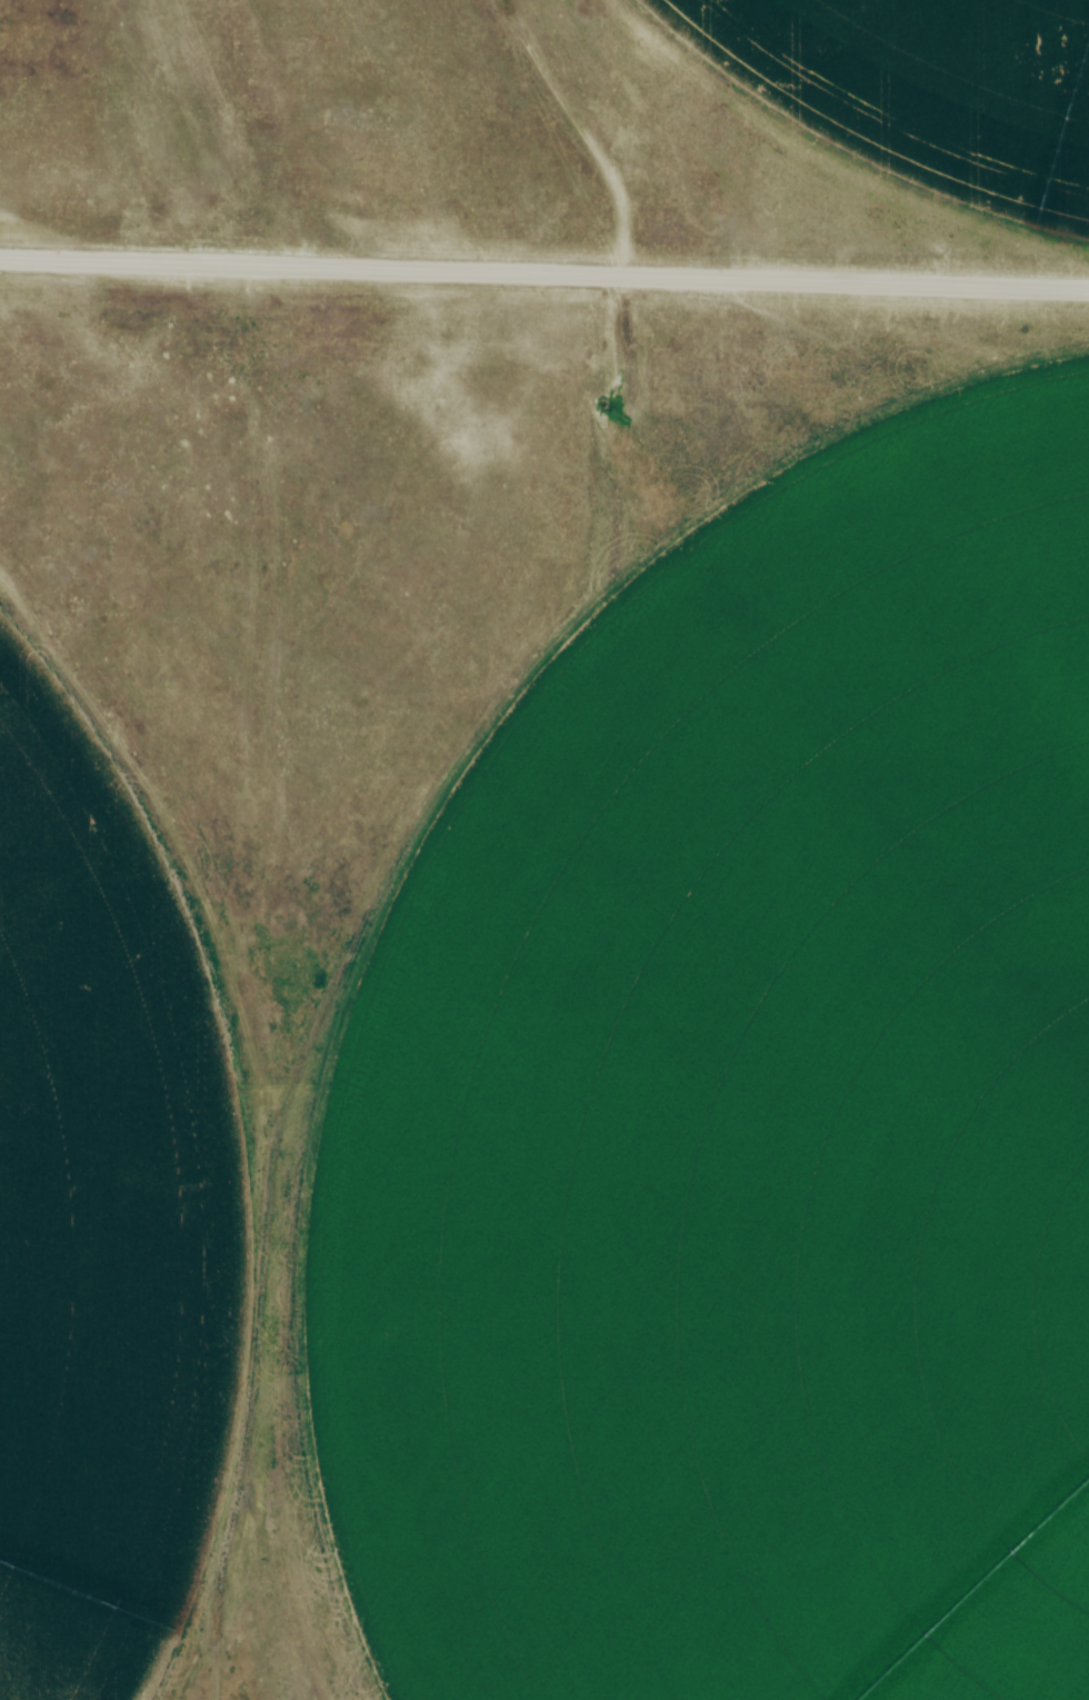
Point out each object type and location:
crop: (917, 91)
road: (544, 277)
crop: (727, 1154)
crop: (100, 1217)

